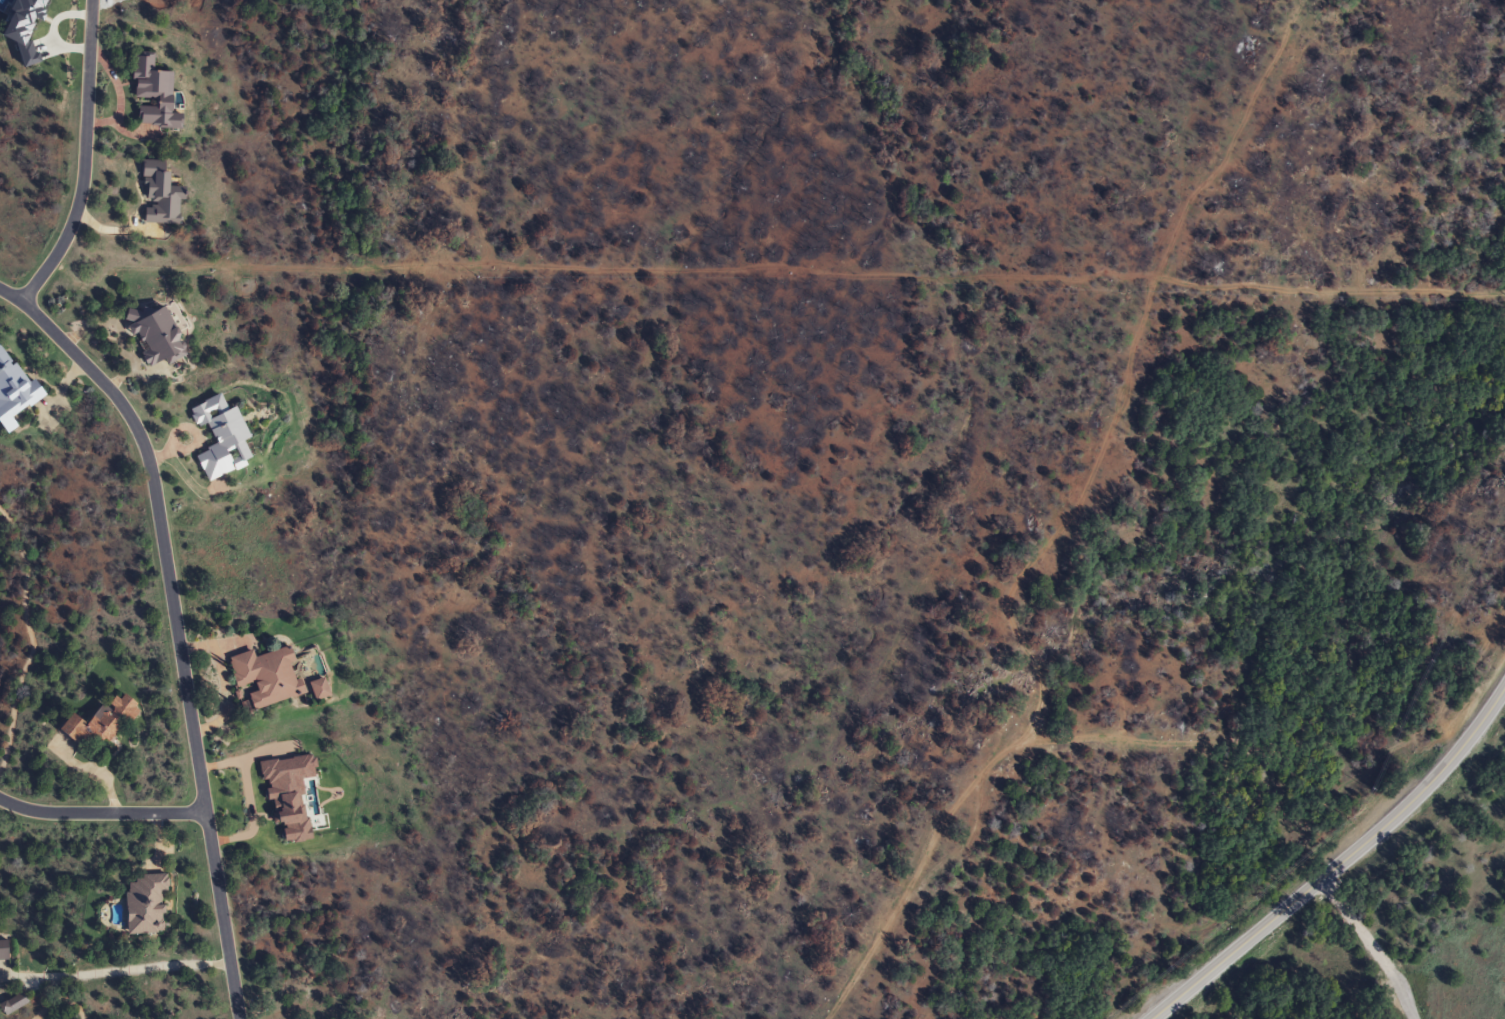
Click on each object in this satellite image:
building: (149, 93)
road: (84, 159)
road: (9, 295)
building: (152, 335)
building: (13, 392)
building: (217, 438)
road: (177, 636)
building: (261, 677)
building: (315, 689)
building: (98, 722)
road: (100, 813)
road: (1339, 863)
building: (141, 905)
building: (2, 951)
road: (1405, 998)

